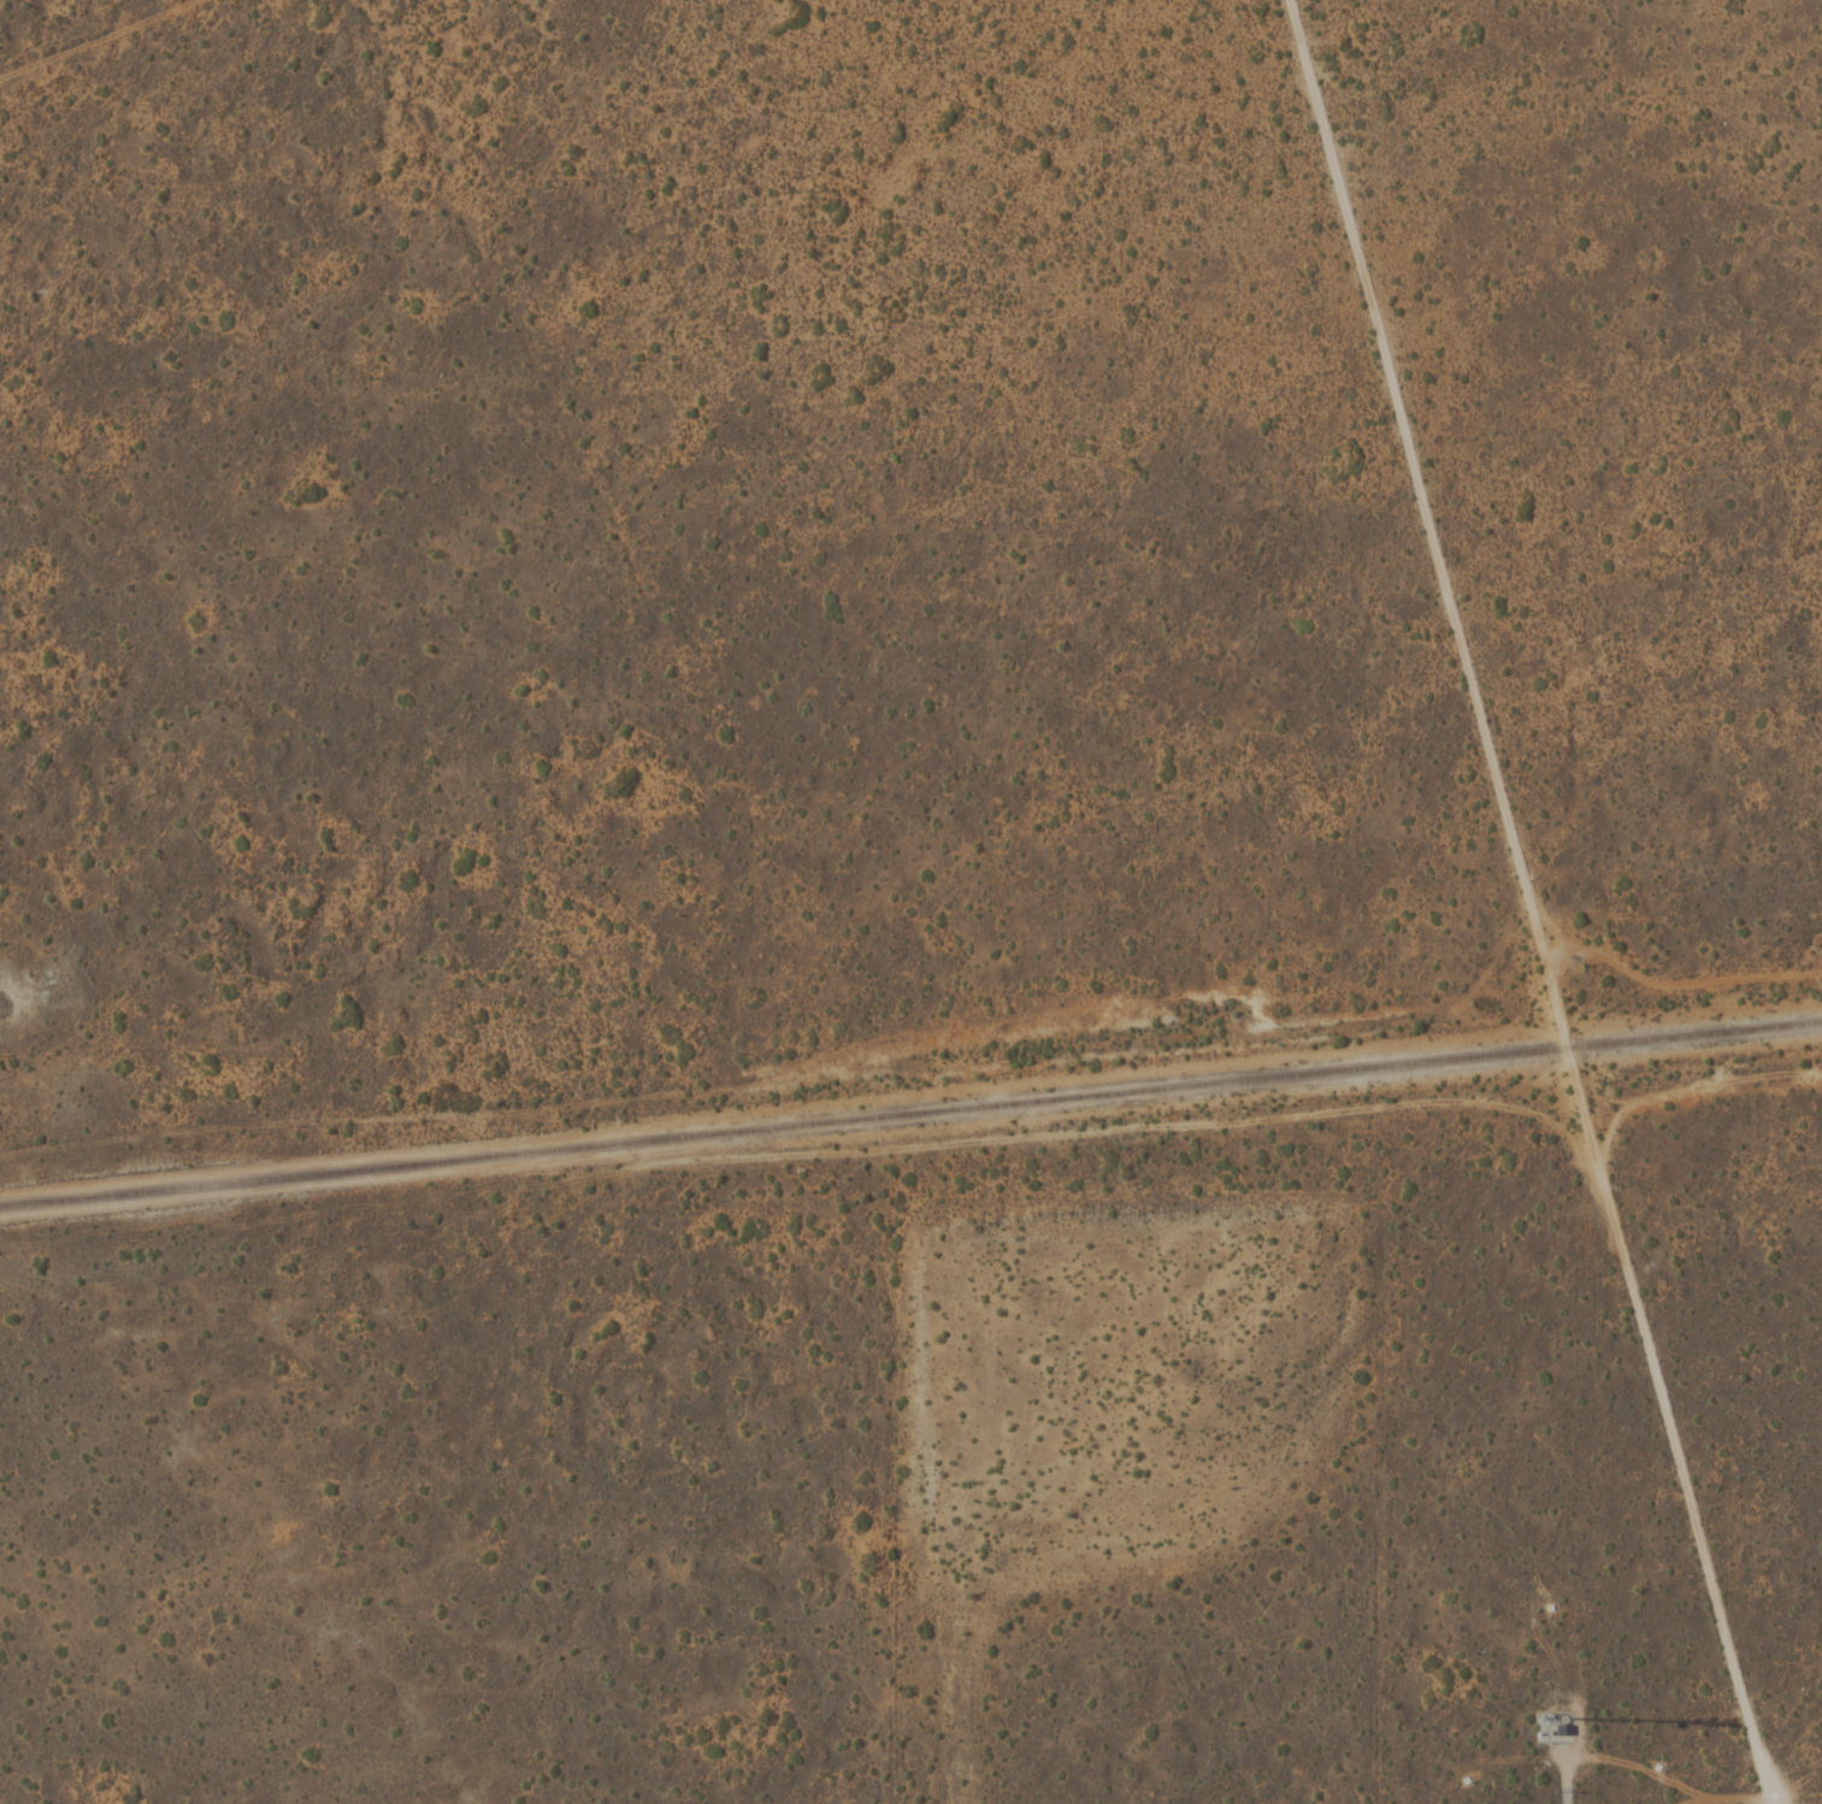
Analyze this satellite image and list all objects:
road: (1527, 902)
railway: (910, 1112)

